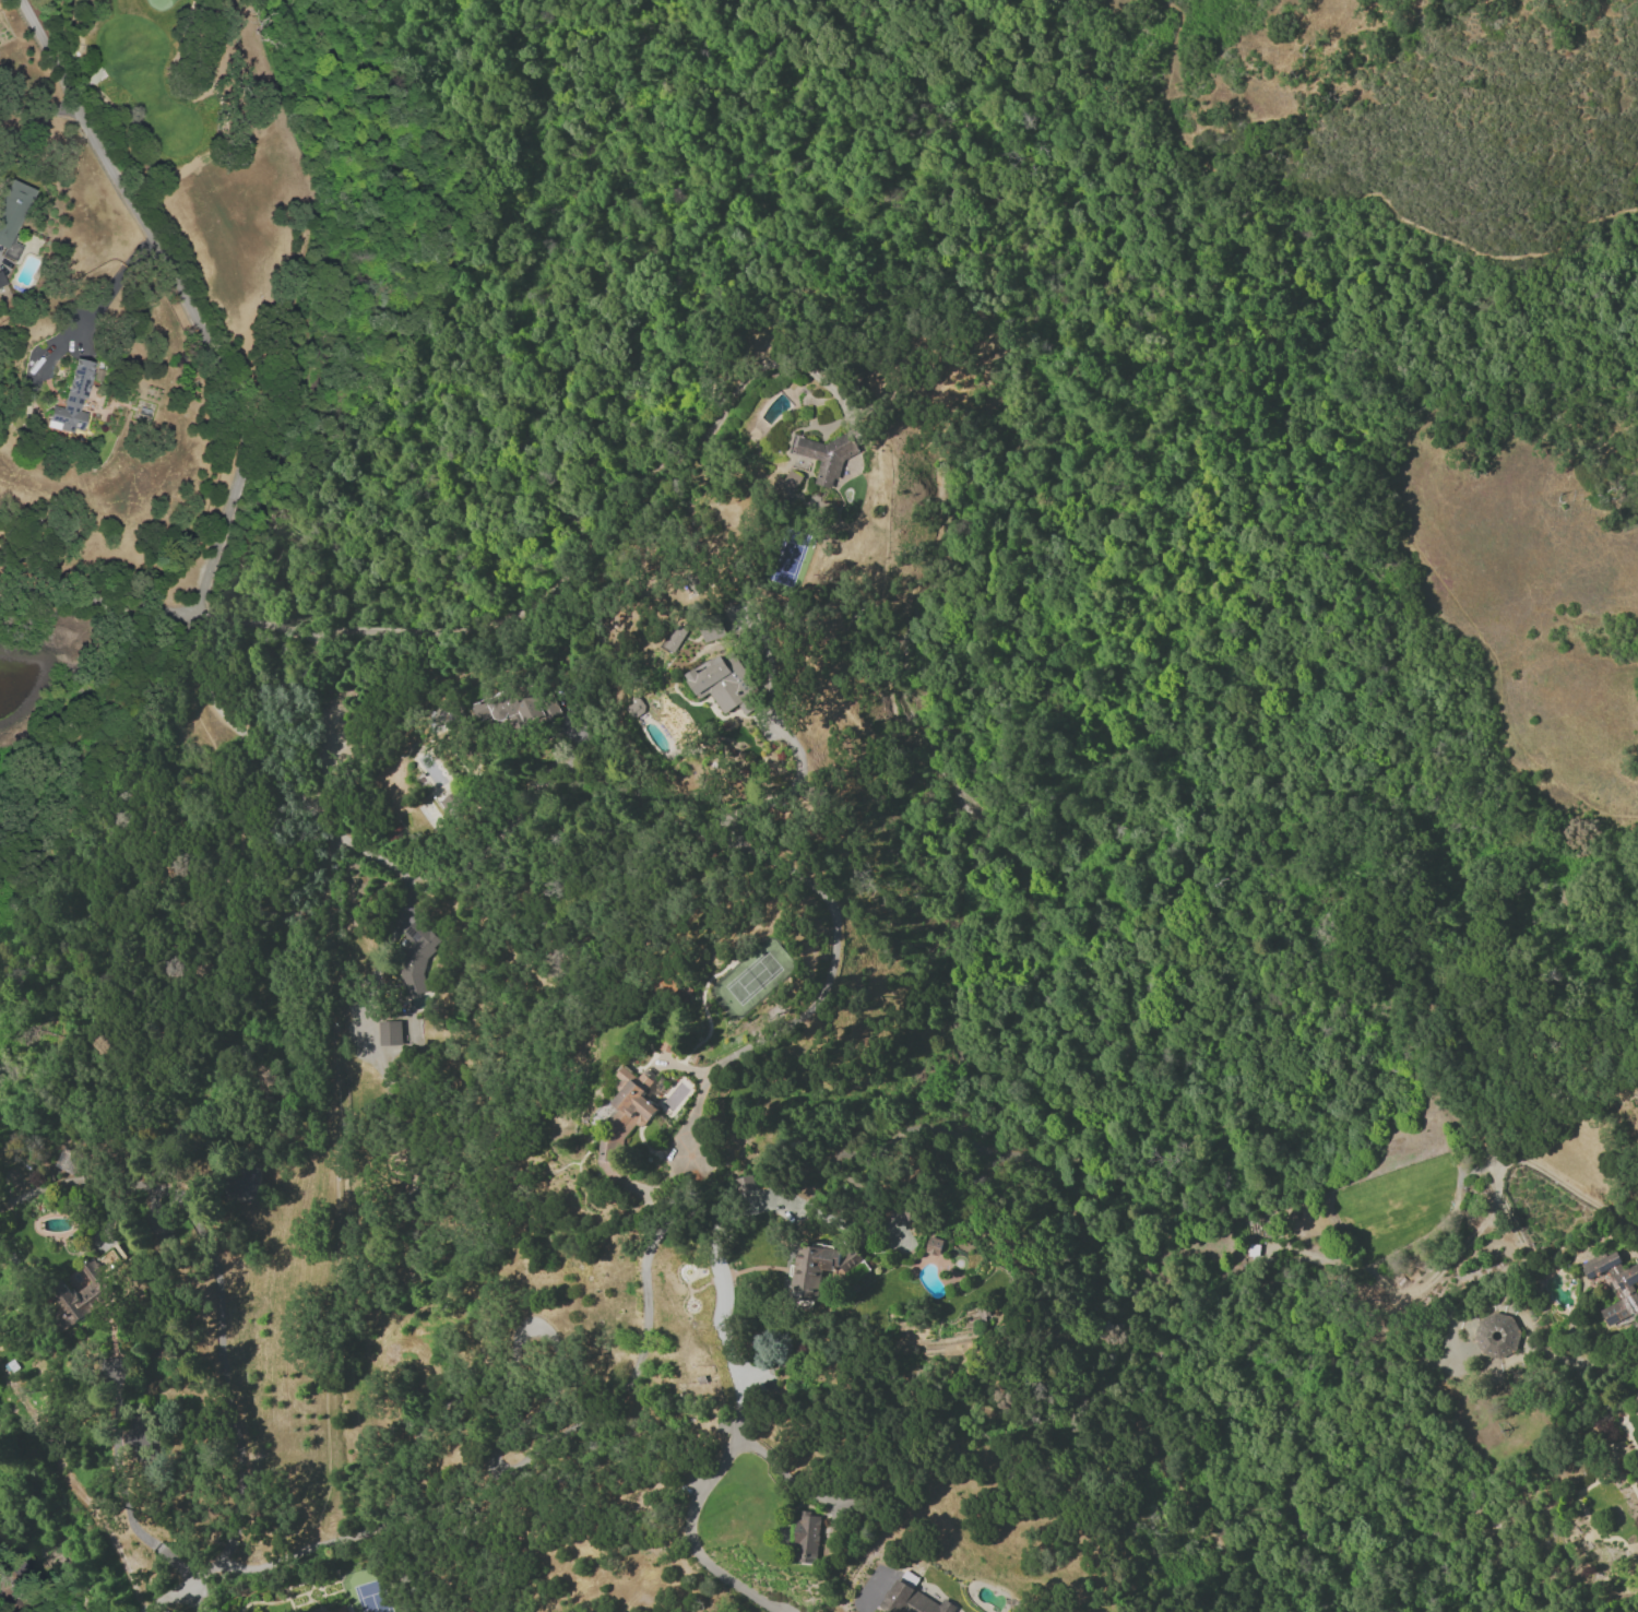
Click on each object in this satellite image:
road: (37, 108)
road: (1319, 197)
building: (13, 217)
building: (2, 281)
road: (96, 297)
building: (3, 303)
road: (225, 382)
building: (75, 401)
building: (822, 457)
building: (785, 485)
road: (586, 540)
road: (1415, 547)
road: (252, 623)
building: (675, 638)
building: (724, 684)
building: (518, 707)
building: (634, 707)
road: (781, 793)
road: (748, 850)
building: (415, 957)
building: (389, 1032)
building: (245, 1182)
road: (336, 1188)
building: (752, 1195)
building: (413, 1200)
building: (933, 1245)
building: (821, 1268)
building: (1615, 1285)
building: (81, 1295)
building: (1497, 1336)
road: (1341, 1338)
road: (704, 1489)
road: (127, 1516)
building: (806, 1537)
road: (278, 1560)
road: (408, 1561)
road: (870, 1593)
road: (171, 1597)
building: (912, 1600)

